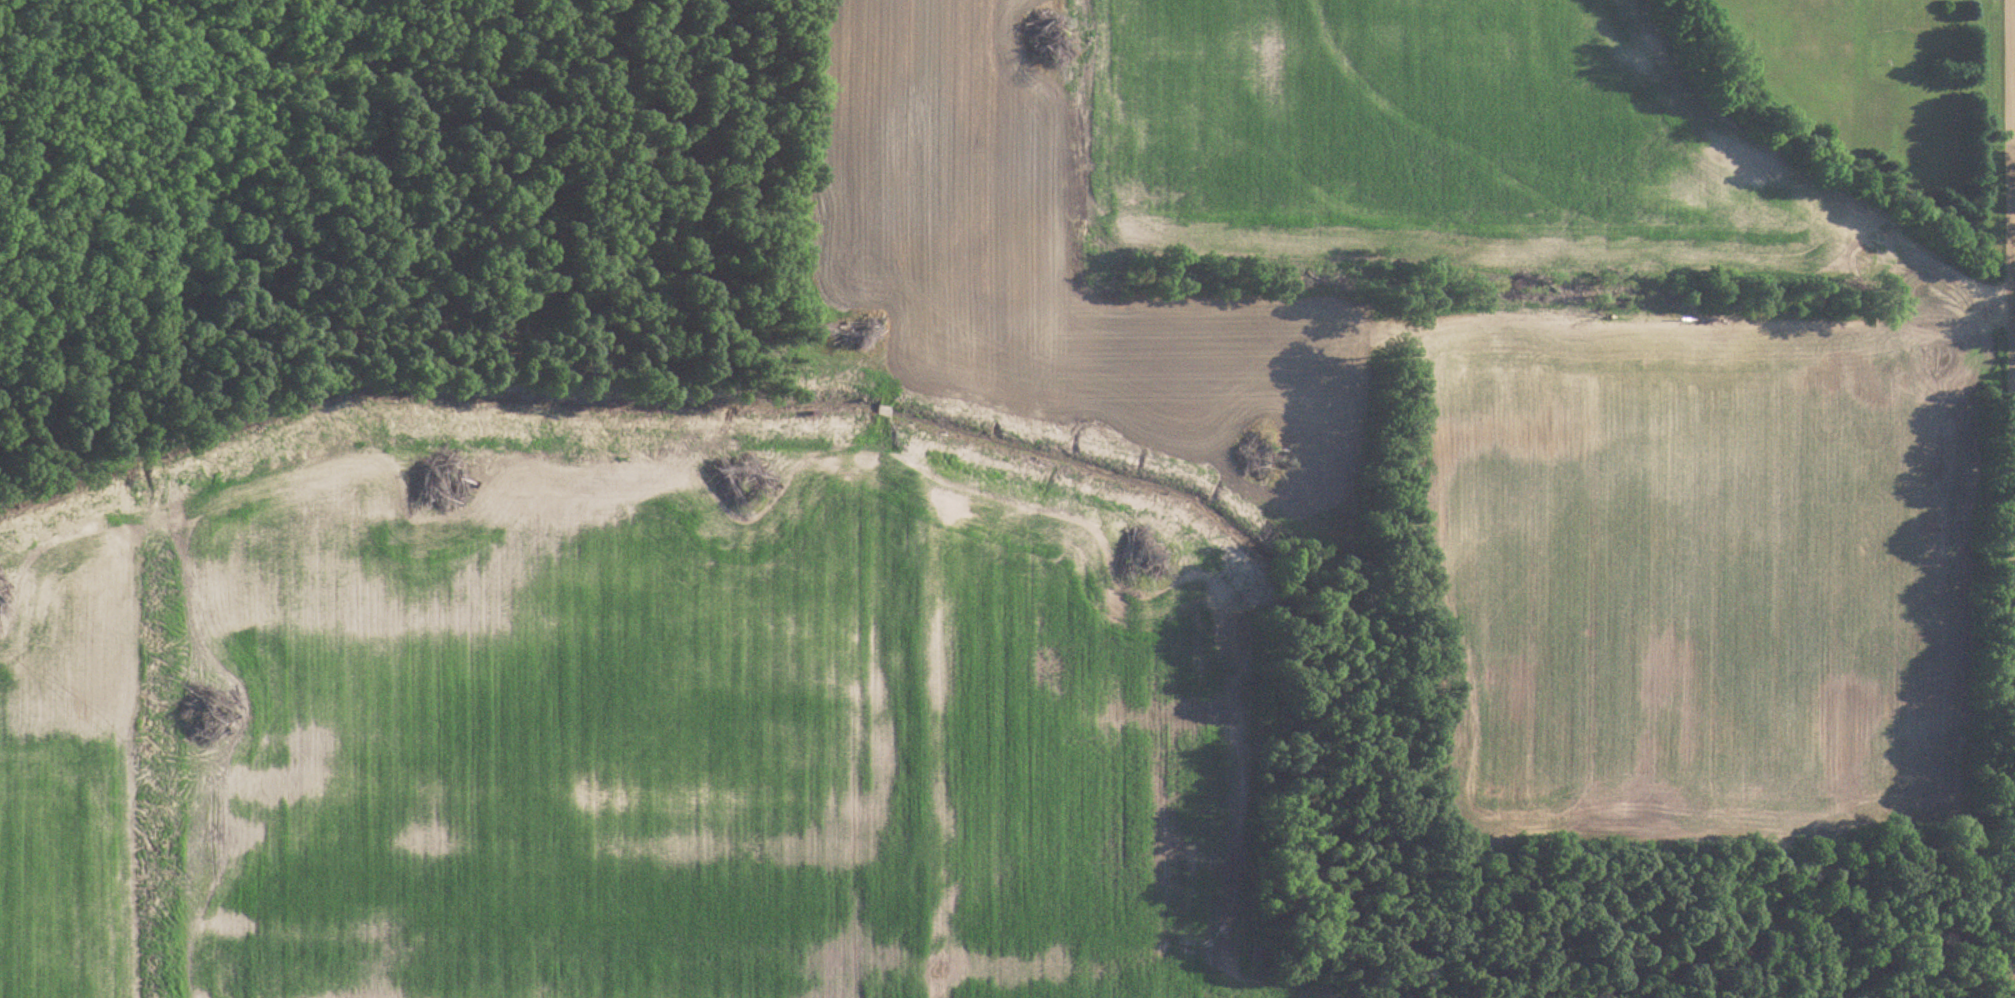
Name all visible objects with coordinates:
road: (2013, 248)
road: (2009, 498)
road: (2011, 642)

